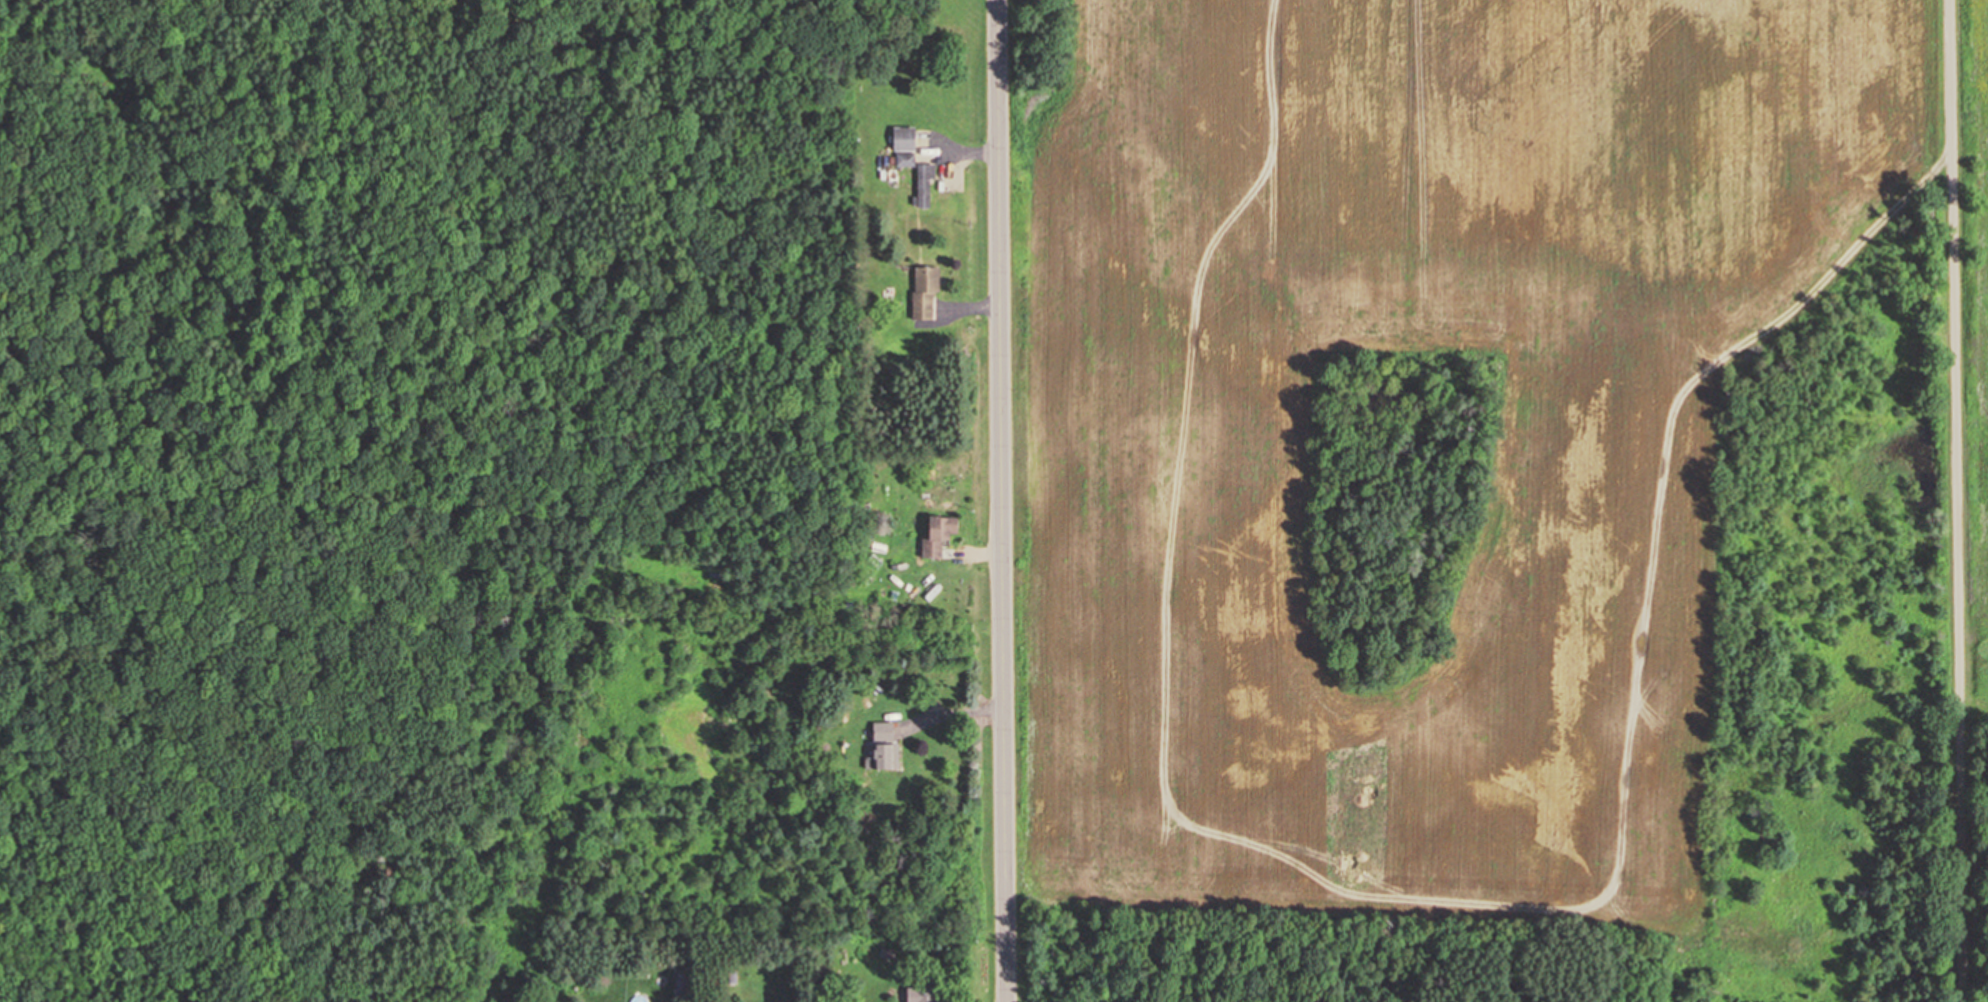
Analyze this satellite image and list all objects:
building: (902, 138)
building: (904, 159)
building: (923, 183)
building: (923, 290)
road: (1003, 500)
road: (1962, 500)
building: (937, 532)
building: (882, 745)
building: (877, 956)
building: (920, 994)

